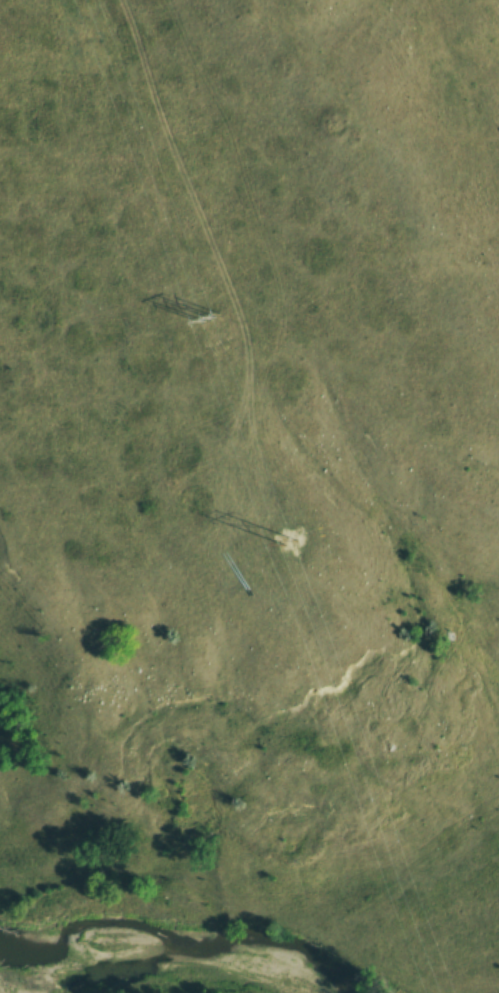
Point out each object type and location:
power tower: (207, 319)
power tower: (338, 683)
river: (169, 949)

